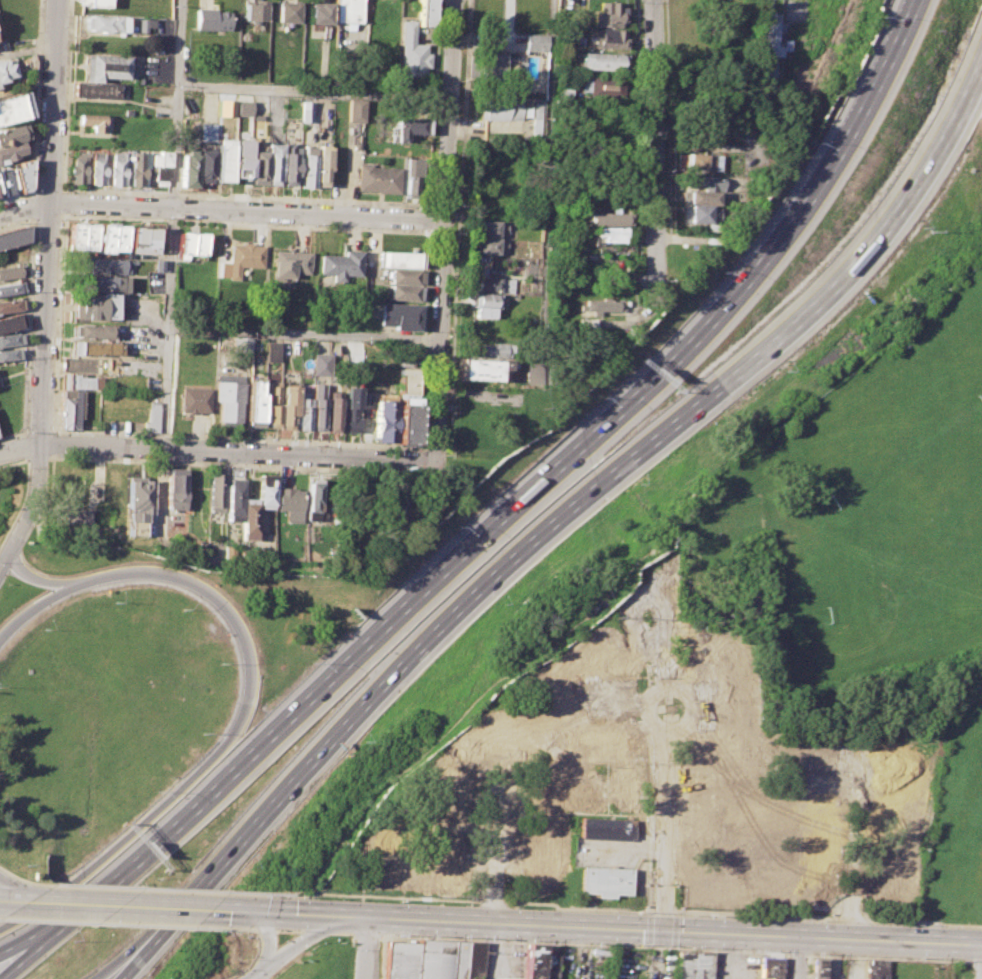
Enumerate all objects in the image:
building: (94, 3)
building: (347, 10)
building: (253, 11)
building: (285, 11)
building: (317, 12)
building: (425, 12)
building: (608, 14)
building: (210, 19)
building: (104, 23)
building: (140, 25)
building: (771, 33)
building: (609, 38)
building: (536, 42)
building: (412, 52)
building: (602, 60)
building: (102, 67)
building: (503, 67)
building: (5, 70)
building: (357, 73)
building: (340, 76)
building: (603, 86)
building: (94, 89)
road: (313, 91)
building: (563, 94)
road: (176, 103)
building: (238, 104)
building: (13, 108)
building: (504, 109)
building: (304, 111)
building: (355, 111)
building: (539, 111)
building: (90, 121)
building: (408, 127)
building: (204, 131)
building: (10, 135)
road: (654, 148)
building: (10, 151)
building: (220, 160)
building: (699, 161)
building: (271, 163)
building: (287, 163)
building: (239, 164)
building: (256, 164)
building: (321, 164)
building: (78, 165)
building: (306, 165)
building: (202, 166)
building: (160, 167)
building: (97, 168)
building: (116, 168)
building: (137, 168)
building: (187, 169)
building: (22, 174)
building: (412, 175)
building: (378, 178)
road: (923, 179)
building: (705, 182)
building: (8, 183)
road: (31, 192)
road: (254, 197)
building: (700, 197)
road: (808, 198)
road: (222, 210)
building: (697, 213)
road: (32, 216)
road: (431, 218)
building: (606, 219)
building: (10, 226)
building: (494, 228)
road: (444, 230)
building: (609, 234)
building: (13, 237)
building: (82, 237)
building: (112, 237)
building: (143, 239)
building: (190, 244)
building: (493, 245)
building: (244, 257)
building: (401, 258)
building: (289, 263)
building: (158, 264)
building: (341, 264)
building: (104, 265)
building: (11, 271)
building: (403, 276)
road: (43, 278)
building: (105, 283)
building: (493, 284)
building: (10, 288)
building: (402, 291)
building: (487, 304)
building: (601, 304)
building: (10, 305)
building: (95, 306)
building: (400, 315)
park: (977, 320)
building: (10, 322)
building: (589, 322)
road: (167, 327)
building: (92, 330)
road: (784, 332)
road: (304, 333)
road: (427, 335)
building: (9, 339)
building: (289, 346)
building: (95, 347)
building: (271, 350)
building: (488, 350)
building: (9, 354)
building: (320, 364)
building: (77, 365)
building: (481, 368)
building: (537, 371)
building: (407, 380)
building: (74, 381)
building: (193, 399)
building: (254, 399)
building: (228, 400)
building: (272, 404)
building: (287, 404)
building: (316, 406)
building: (67, 408)
building: (302, 413)
building: (332, 413)
building: (152, 416)
building: (350, 417)
building: (385, 420)
building: (407, 423)
road: (217, 449)
road: (421, 450)
park: (905, 450)
road: (37, 457)
road: (420, 460)
road: (13, 462)
road: (234, 464)
building: (175, 488)
building: (216, 489)
building: (266, 489)
building: (289, 498)
building: (138, 499)
building: (233, 500)
road: (21, 502)
building: (396, 502)
building: (318, 504)
building: (79, 517)
building: (247, 520)
road: (4, 557)
park: (870, 563)
park: (937, 570)
road: (33, 579)
road: (32, 606)
road: (420, 646)
building: (714, 651)
building: (601, 658)
road: (348, 661)
building: (550, 700)
building: (742, 701)
road: (229, 736)
building: (499, 740)
building: (602, 741)
building: (715, 752)
building: (622, 789)
building: (452, 791)
building: (542, 795)
building: (898, 814)
building: (699, 816)
building: (759, 816)
building: (605, 829)
building: (822, 831)
building: (385, 858)
building: (449, 862)
building: (539, 866)
building: (884, 875)
road: (23, 881)
building: (604, 881)
building: (720, 883)
road: (158, 889)
building: (798, 892)
road: (8, 894)
road: (8, 903)
road: (22, 904)
road: (127, 907)
road: (623, 909)
road: (245, 912)
road: (492, 912)
traffic signals: (262, 913)
road: (301, 914)
road: (353, 916)
road: (661, 920)
road: (115, 923)
road: (244, 929)
road: (849, 929)
road: (267, 930)
road: (290, 930)
road: (674, 930)
road: (318, 932)
road: (343, 933)
road: (367, 934)
road: (267, 941)
road: (300, 942)
road: (583, 944)
road: (366, 948)
road: (492, 951)
road: (13, 952)
road: (798, 952)
road: (734, 955)
road: (798, 957)
road: (891, 957)
road: (123, 959)
building: (436, 959)
building: (469, 959)
road: (139, 960)
building: (402, 960)
road: (13, 961)
road: (977, 961)
building: (541, 963)
building: (694, 965)
road: (785, 965)
building: (771, 967)
building: (818, 968)
building: (875, 969)
road: (971, 970)
road: (254, 974)
road: (258, 974)

